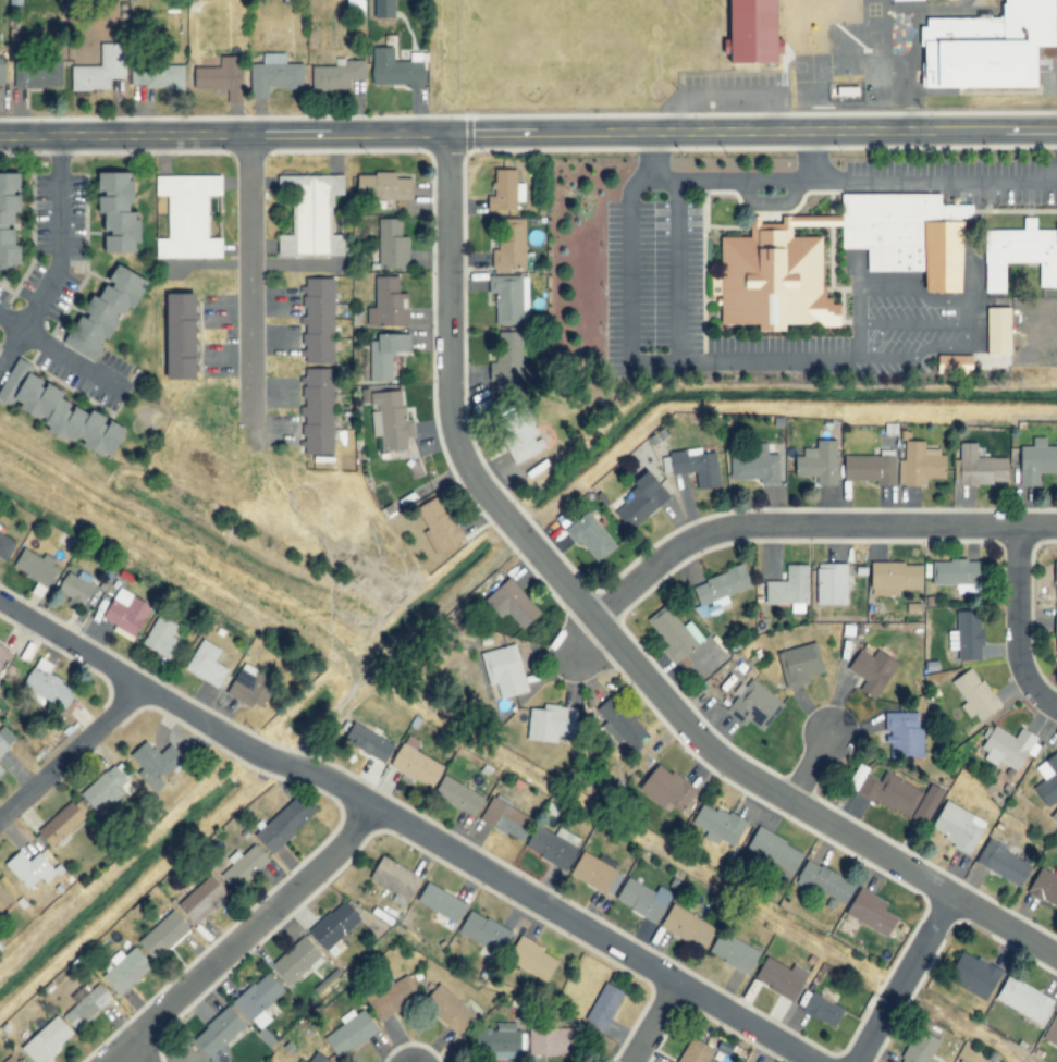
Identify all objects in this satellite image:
building: (905, 0)
building: (355, 7)
building: (384, 8)
building: (758, 30)
building: (985, 47)
building: (100, 69)
building: (395, 70)
building: (34, 72)
building: (275, 74)
building: (337, 75)
building: (157, 76)
building: (223, 77)
road: (528, 135)
parking lot: (893, 171)
building: (383, 187)
building: (506, 190)
building: (120, 212)
building: (311, 215)
building: (188, 217)
building: (10, 218)
building: (906, 233)
building: (392, 245)
building: (509, 245)
building: (1018, 252)
road: (59, 258)
road: (249, 275)
building: (773, 275)
parking lot: (639, 281)
building: (509, 298)
building: (388, 304)
building: (107, 312)
building: (318, 320)
building: (995, 329)
building: (183, 336)
parking lot: (789, 344)
road: (59, 353)
building: (385, 355)
building: (507, 362)
building: (61, 410)
building: (317, 411)
building: (391, 418)
building: (521, 434)
building: (1036, 461)
building: (819, 462)
building: (920, 465)
building: (697, 466)
building: (755, 466)
building: (979, 467)
building: (871, 469)
building: (641, 502)
road: (803, 524)
building: (439, 527)
building: (591, 538)
building: (4, 544)
road: (325, 544)
building: (36, 567)
building: (954, 571)
building: (1053, 572)
building: (896, 577)
building: (832, 583)
building: (76, 588)
building: (790, 588)
building: (720, 590)
building: (514, 604)
building: (126, 612)
road: (1017, 626)
building: (673, 633)
building: (1054, 633)
building: (162, 637)
building: (964, 637)
road: (70, 641)
road: (600, 644)
road: (394, 649)
road: (569, 649)
building: (3, 654)
building: (206, 664)
building: (800, 665)
building: (505, 670)
building: (873, 670)
building: (251, 686)
building: (46, 687)
building: (971, 694)
building: (753, 705)
building: (620, 721)
building: (552, 723)
building: (904, 734)
building: (370, 743)
building: (3, 746)
building: (1005, 748)
road: (70, 751)
road: (800, 758)
building: (156, 763)
building: (416, 764)
building: (1, 770)
building: (1045, 780)
building: (108, 788)
building: (668, 789)
building: (459, 795)
building: (900, 795)
building: (507, 819)
building: (285, 823)
building: (61, 825)
building: (718, 825)
building: (954, 826)
building: (554, 845)
building: (775, 850)
building: (999, 863)
building: (244, 866)
road: (478, 867)
building: (30, 869)
building: (598, 874)
building: (396, 880)
building: (826, 882)
building: (1042, 887)
building: (3, 899)
building: (204, 899)
building: (644, 900)
building: (442, 903)
building: (872, 912)
building: (335, 925)
building: (688, 927)
building: (484, 931)
building: (164, 935)
road: (245, 936)
building: (734, 952)
building: (533, 960)
building: (297, 961)
building: (126, 970)
building: (968, 975)
building: (781, 977)
road: (904, 979)
building: (395, 996)
building: (259, 1000)
building: (1020, 1000)
building: (88, 1007)
building: (605, 1007)
building: (823, 1008)
building: (448, 1009)
road: (654, 1023)
building: (219, 1032)
building: (351, 1033)
building: (48, 1040)
building: (554, 1040)
building: (505, 1041)
building: (917, 1048)
building: (696, 1051)
building: (12, 1059)
building: (318, 1059)
building: (302, 1060)
building: (955, 1061)

